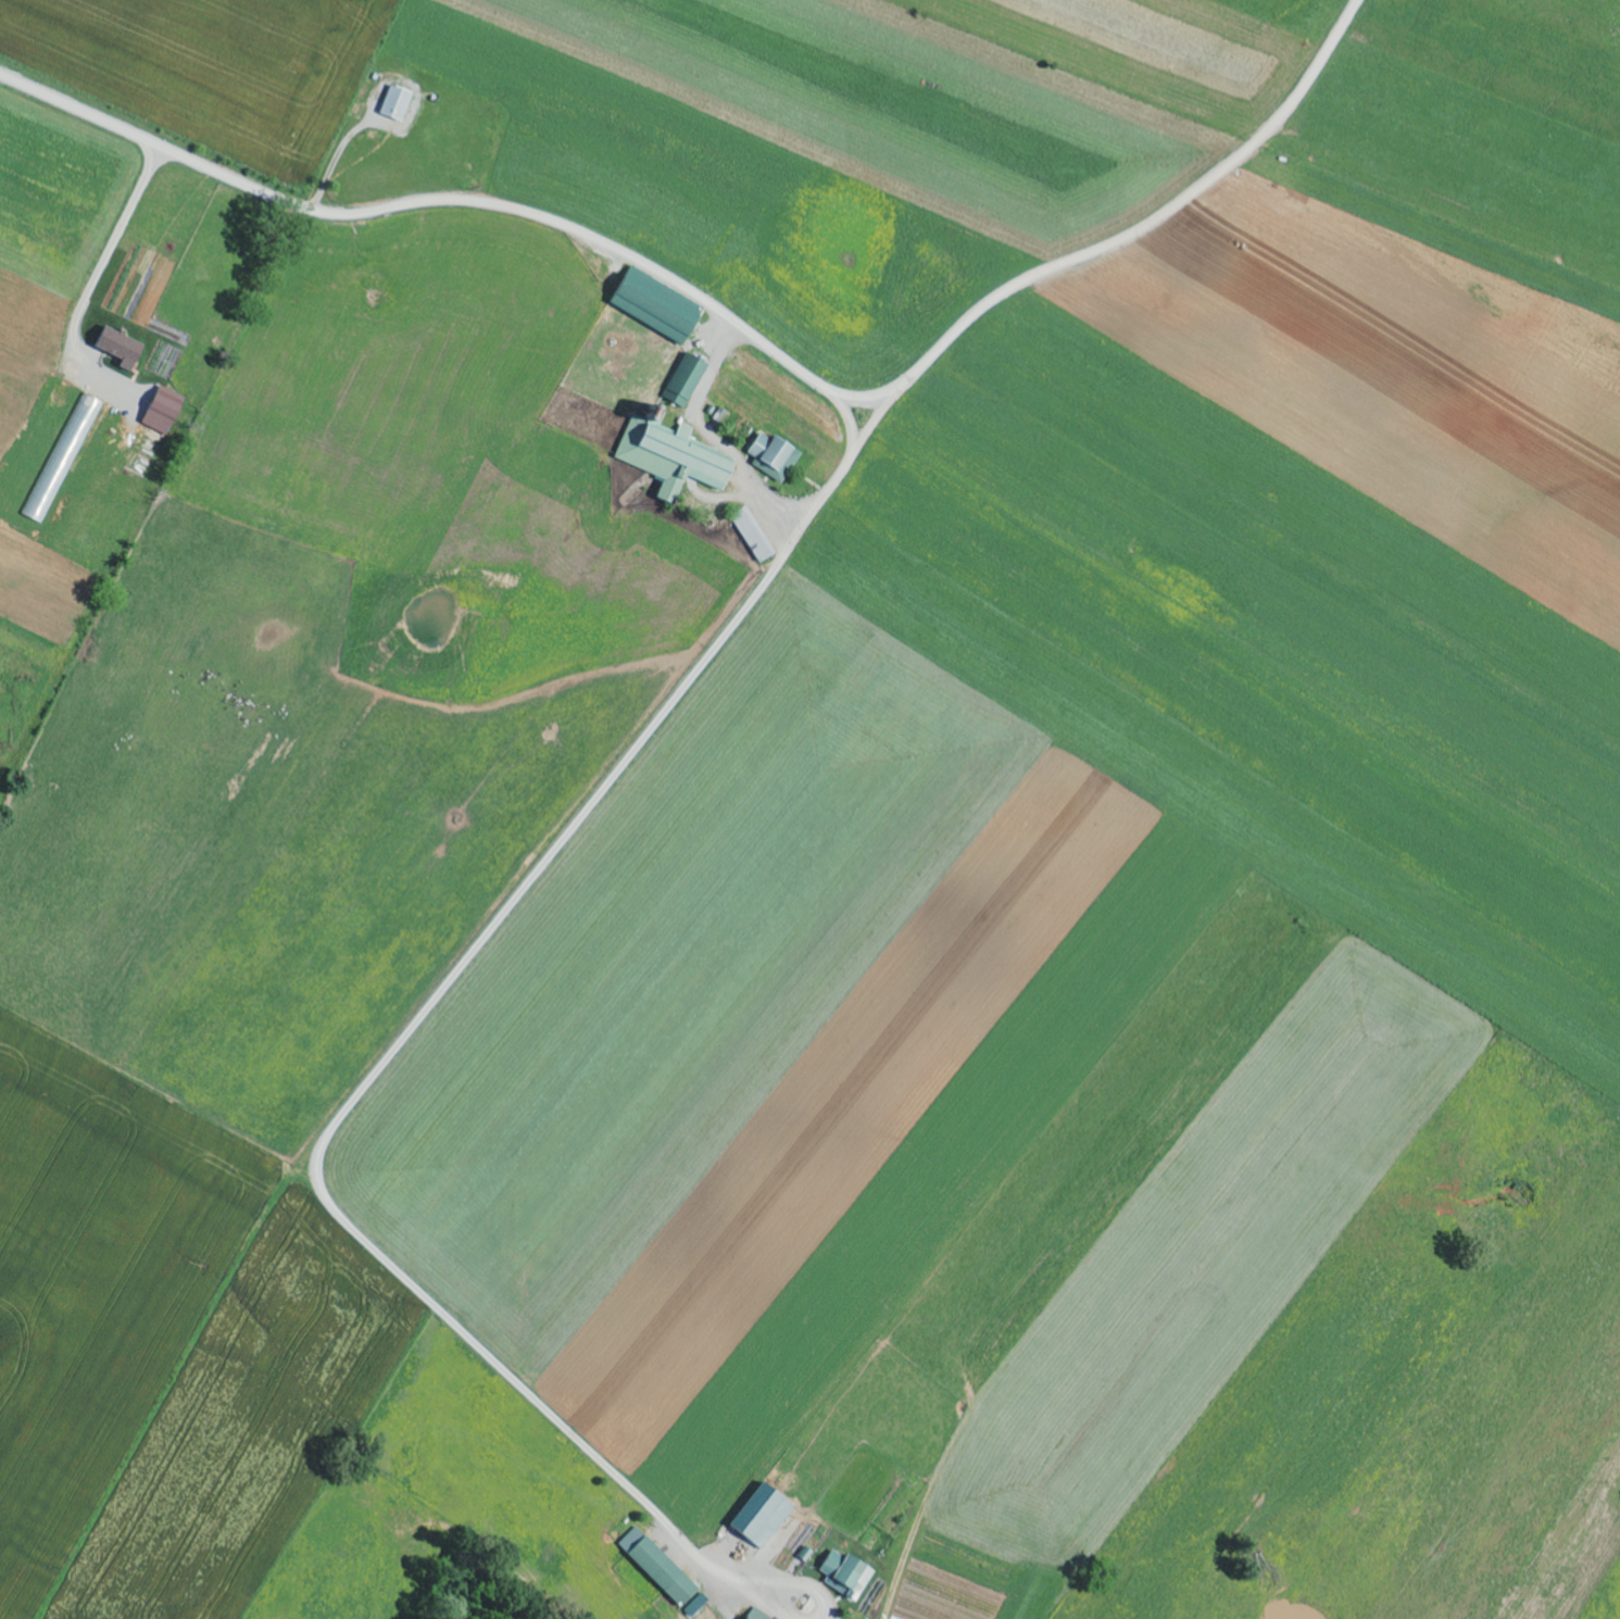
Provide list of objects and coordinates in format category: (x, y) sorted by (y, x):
building: (399, 104)
building: (360, 112)
building: (124, 349)
building: (688, 381)
road: (827, 389)
building: (166, 412)
building: (776, 457)
building: (64, 459)
building: (676, 460)
building: (755, 536)
building: (765, 1515)
building: (665, 1572)
building: (758, 1616)

